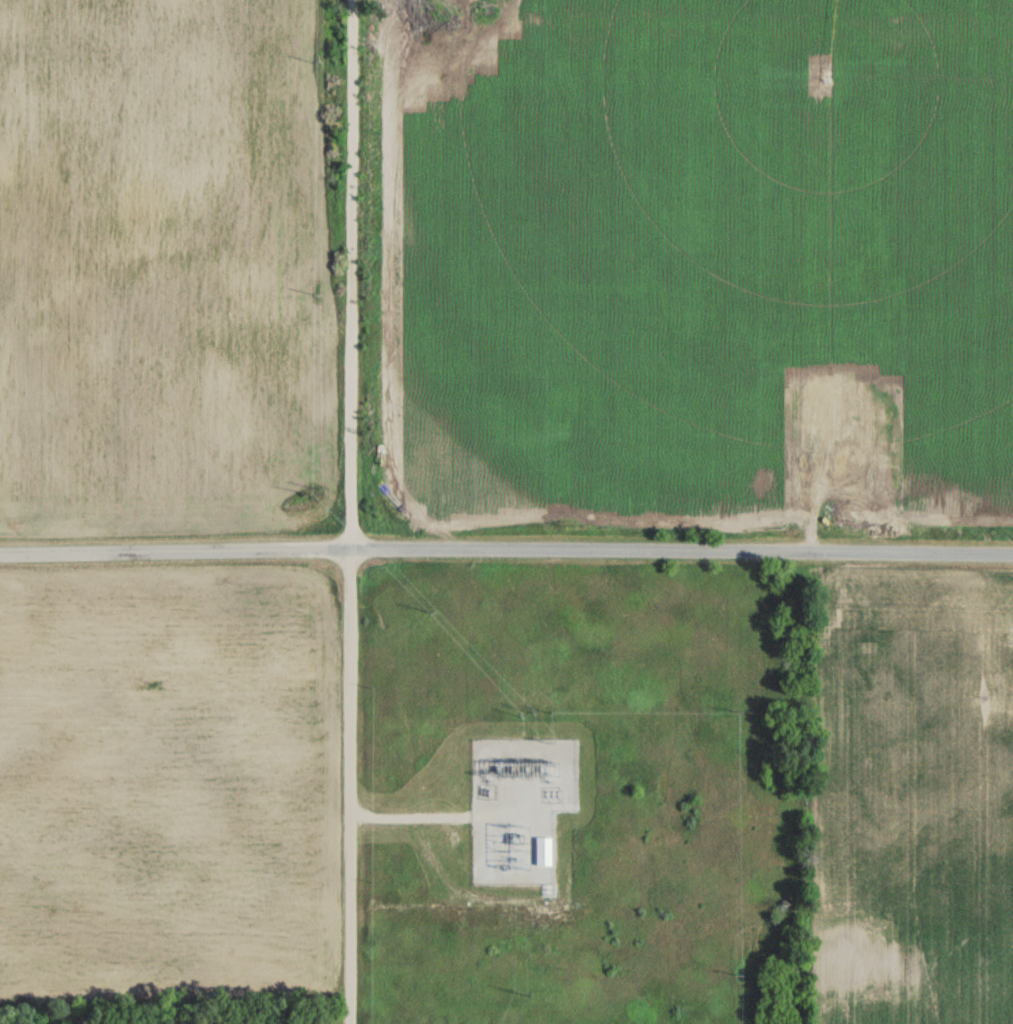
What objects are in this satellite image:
building: (826, 396)
building: (864, 433)
building: (852, 464)
road: (346, 511)
road: (506, 550)
power substation: (516, 808)
road: (407, 818)
power tower: (518, 991)

